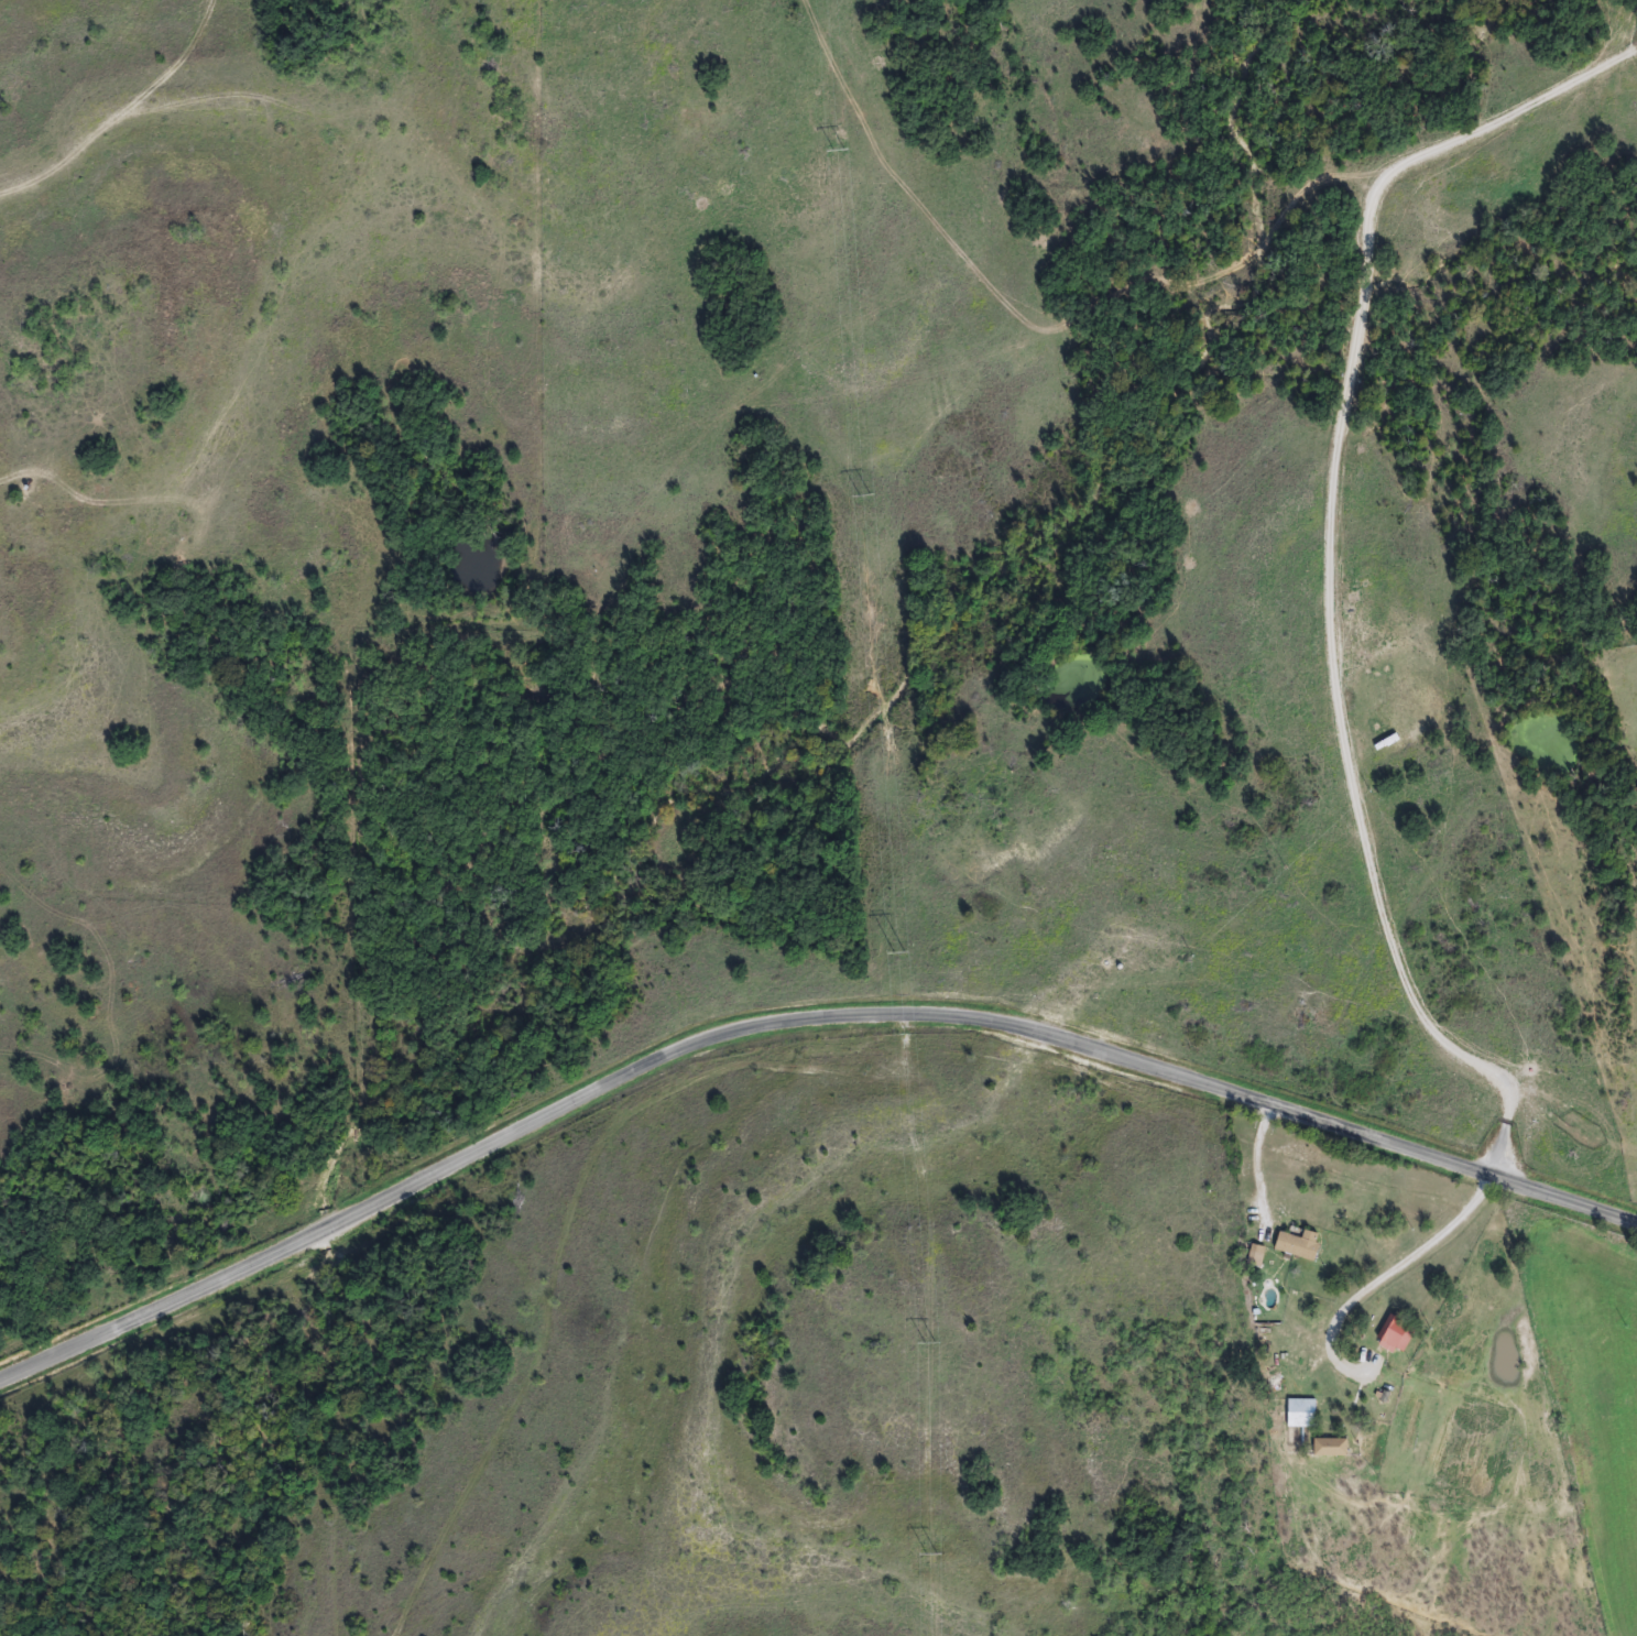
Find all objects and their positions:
road: (68, 149)
power tower: (843, 175)
power tower: (870, 520)
road: (1327, 563)
power tower: (894, 947)
road: (794, 1022)
road: (1258, 1175)
building: (1298, 1245)
road: (1387, 1276)
building: (1396, 1335)
power tower: (934, 1366)
building: (1300, 1413)
building: (1330, 1447)
power tower: (936, 1578)

